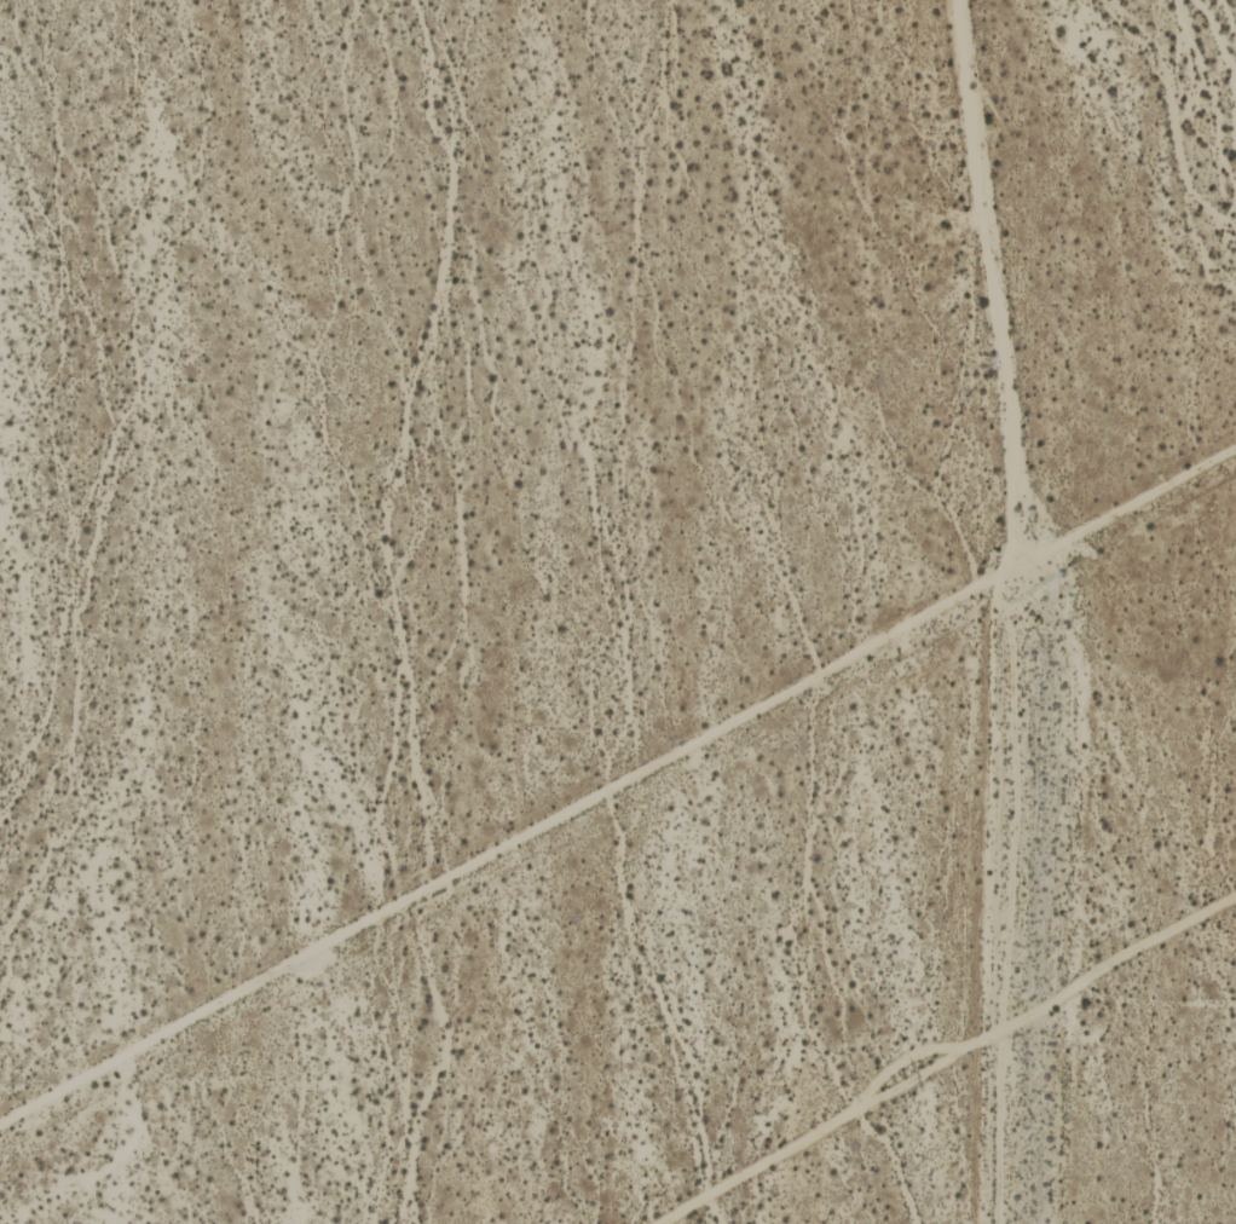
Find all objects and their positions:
road: (617, 783)
power tower: (925, 1078)

